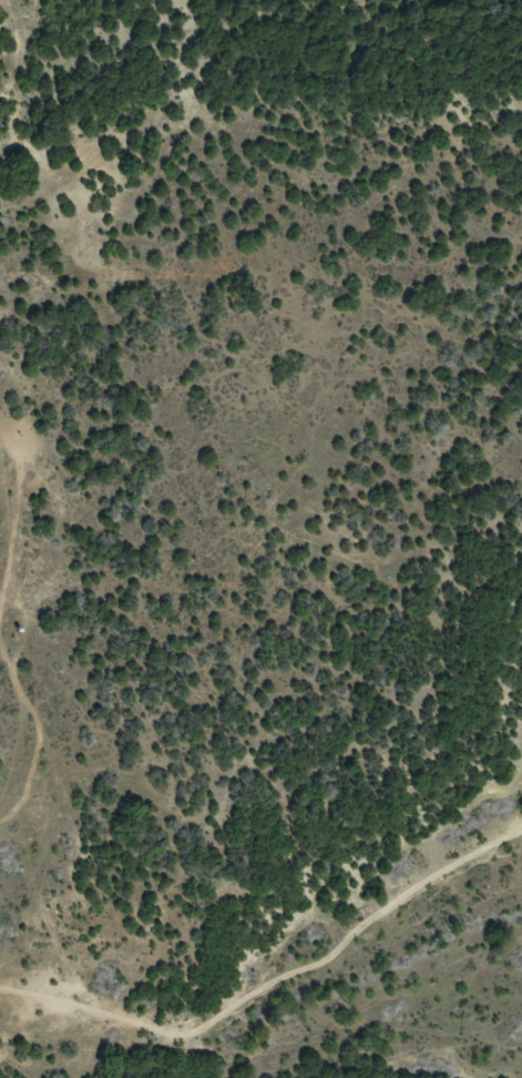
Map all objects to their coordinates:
road: (291, 993)

